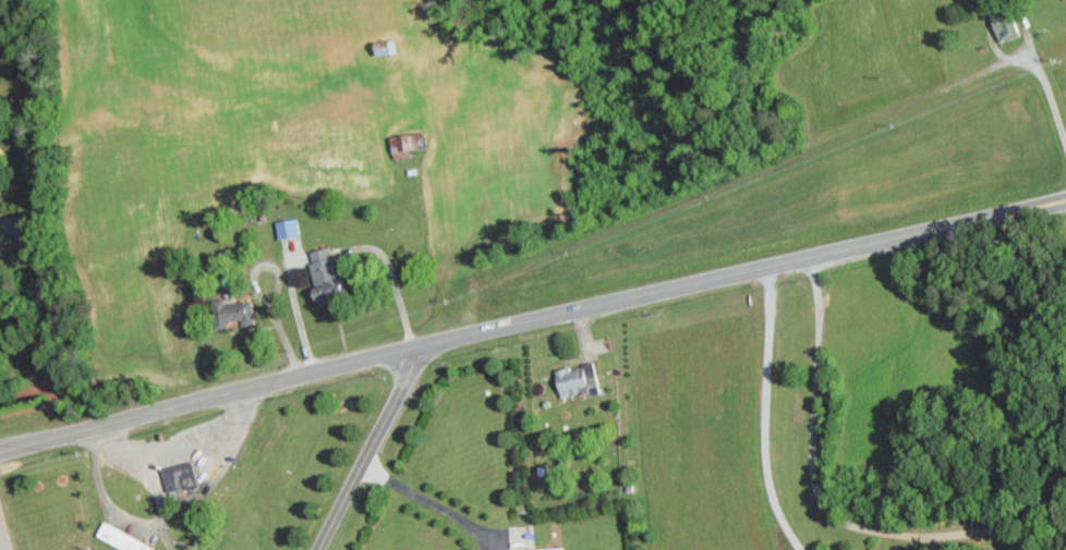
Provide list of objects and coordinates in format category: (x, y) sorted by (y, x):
building: (1057, 0)
building: (1002, 22)
road: (1029, 63)
building: (404, 144)
building: (286, 228)
building: (323, 273)
road: (255, 286)
building: (229, 311)
road: (298, 315)
road: (531, 319)
building: (574, 380)
road: (763, 412)
road: (215, 447)
road: (113, 448)
road: (371, 449)
building: (179, 479)
road: (820, 497)
road: (434, 503)
road: (124, 520)
building: (120, 539)
road: (0, 547)
building: (216, 549)
building: (545, 549)

